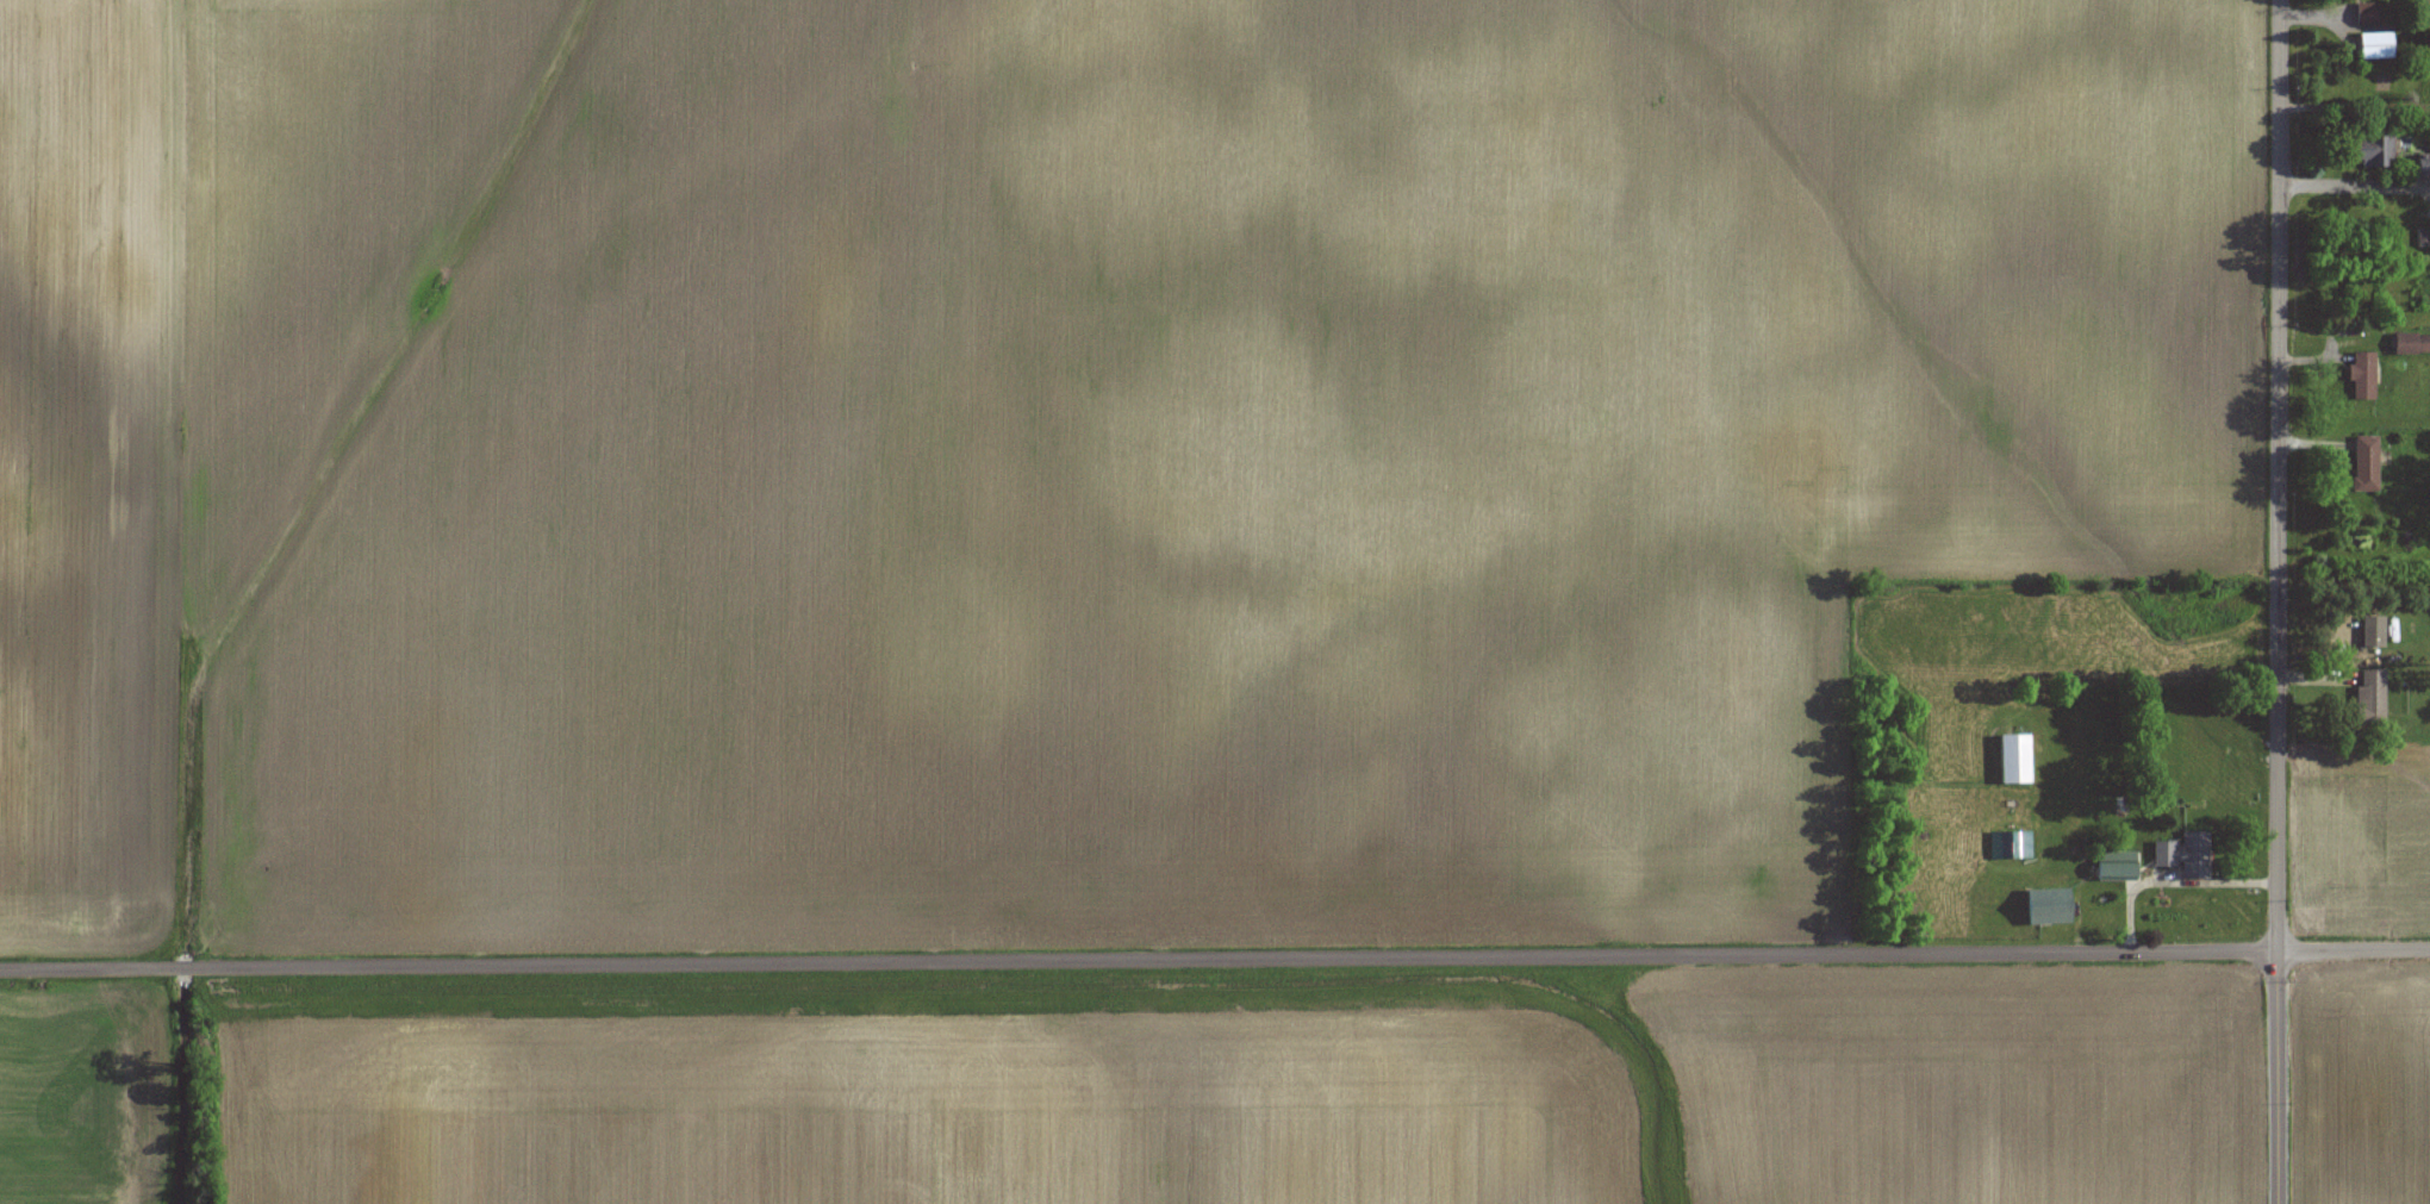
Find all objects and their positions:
building: (2367, 13)
building: (2429, 42)
building: (2376, 45)
building: (2373, 151)
building: (2424, 164)
road: (2341, 187)
building: (2412, 343)
building: (2364, 378)
building: (2367, 463)
road: (2278, 601)
building: (2374, 631)
building: (2373, 698)
building: (2015, 757)
building: (2011, 844)
building: (2187, 854)
building: (2050, 906)
road: (1214, 959)
crop: (2362, 1083)

